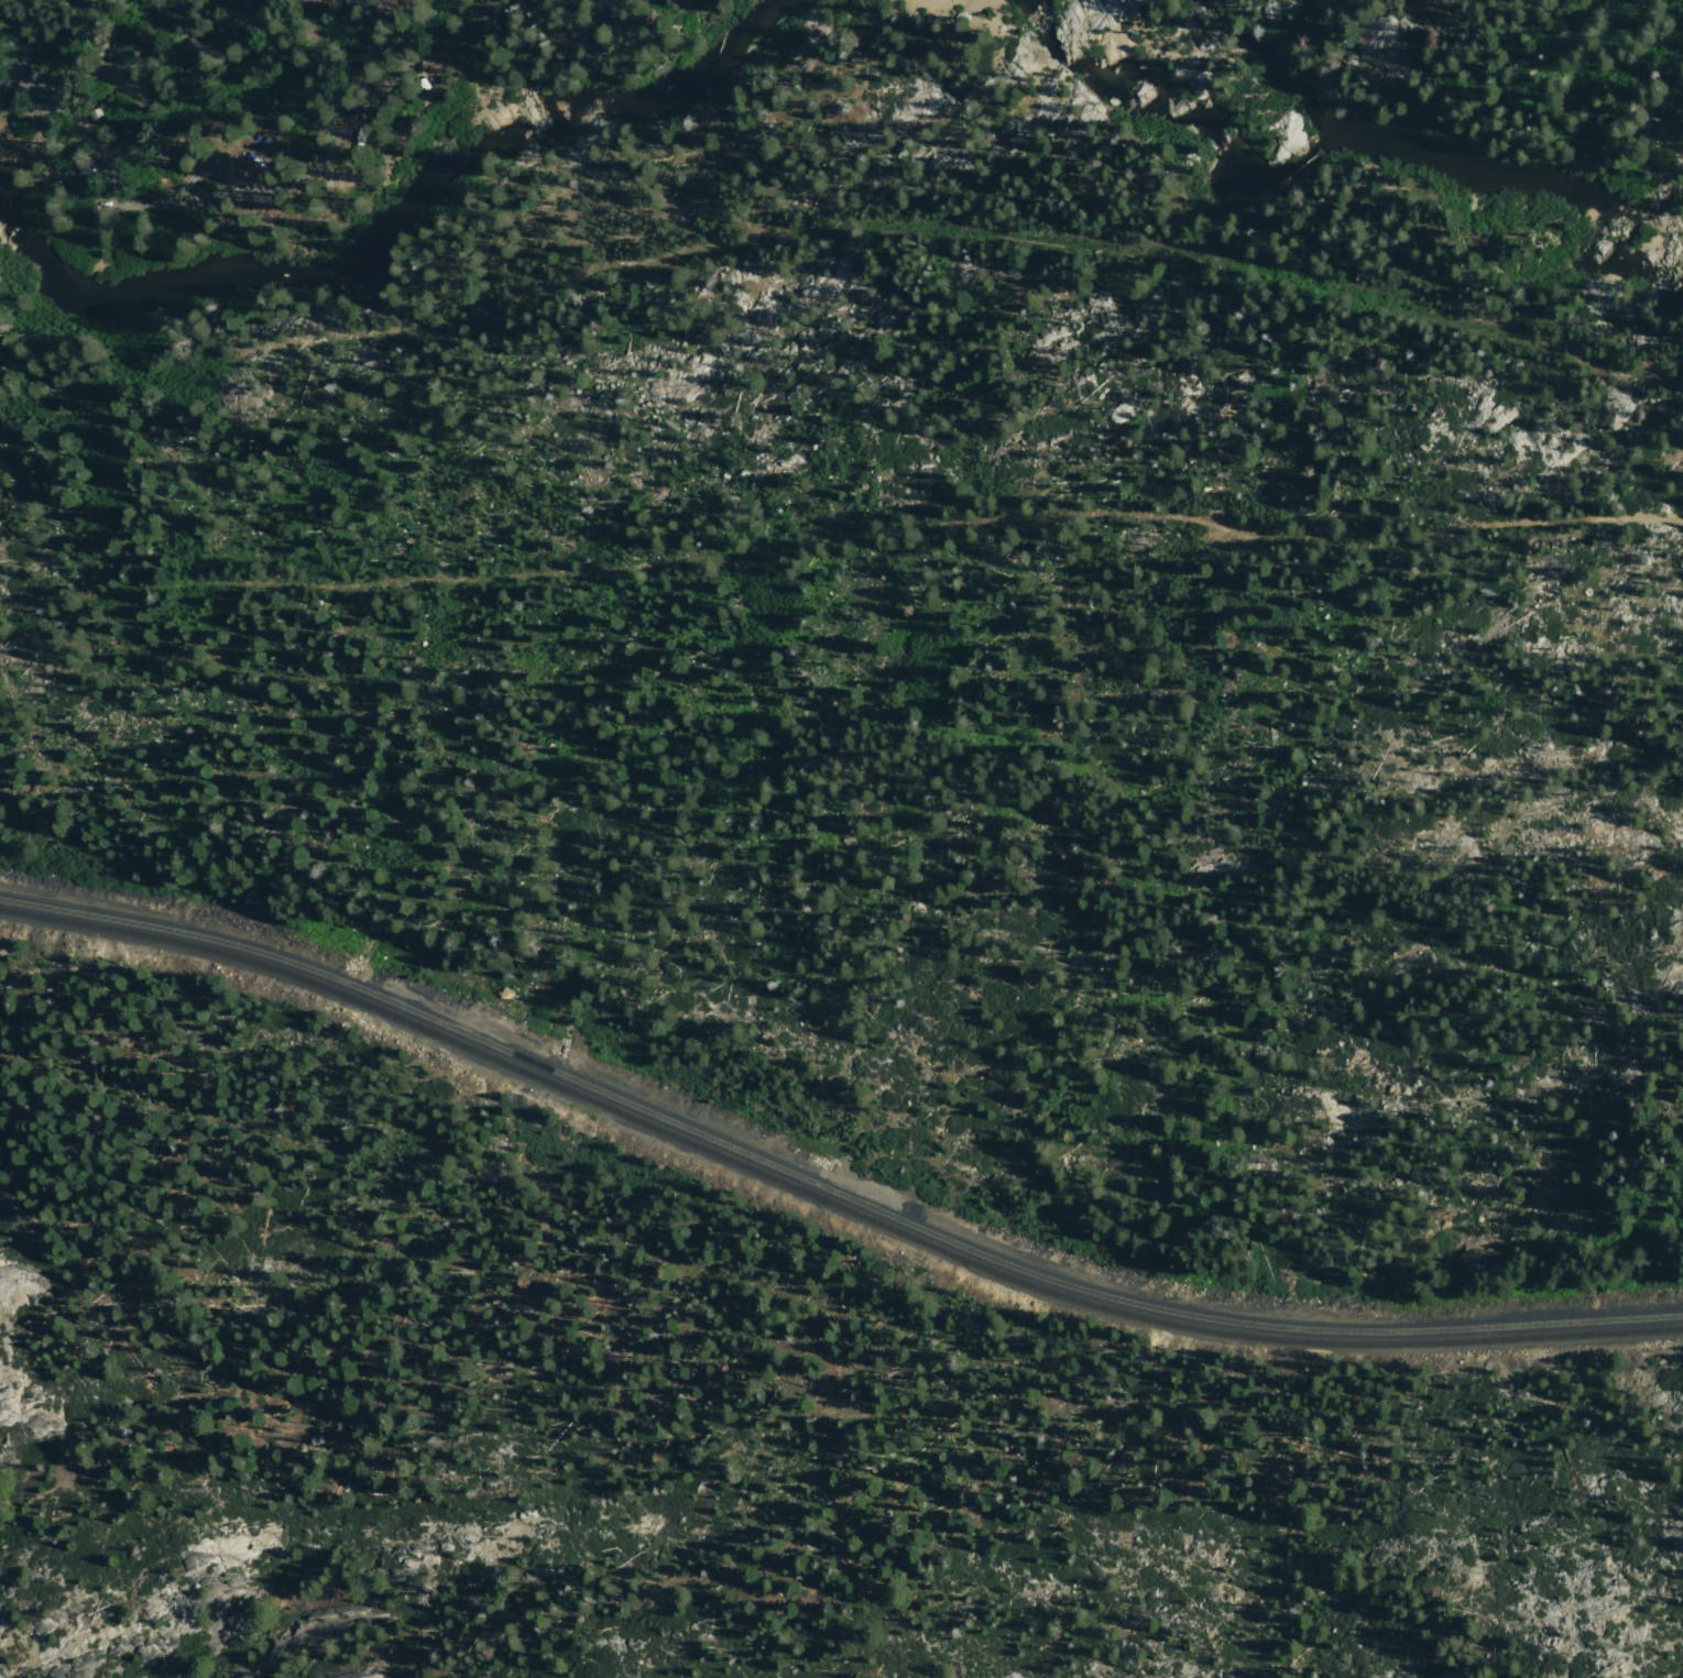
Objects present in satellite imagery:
river: (1005, 47)
road: (24, 87)
river: (667, 111)
road: (134, 200)
road: (841, 224)
river: (1387, 224)
river: (292, 275)
river: (48, 288)
railway: (828, 1189)
railway: (827, 1203)

